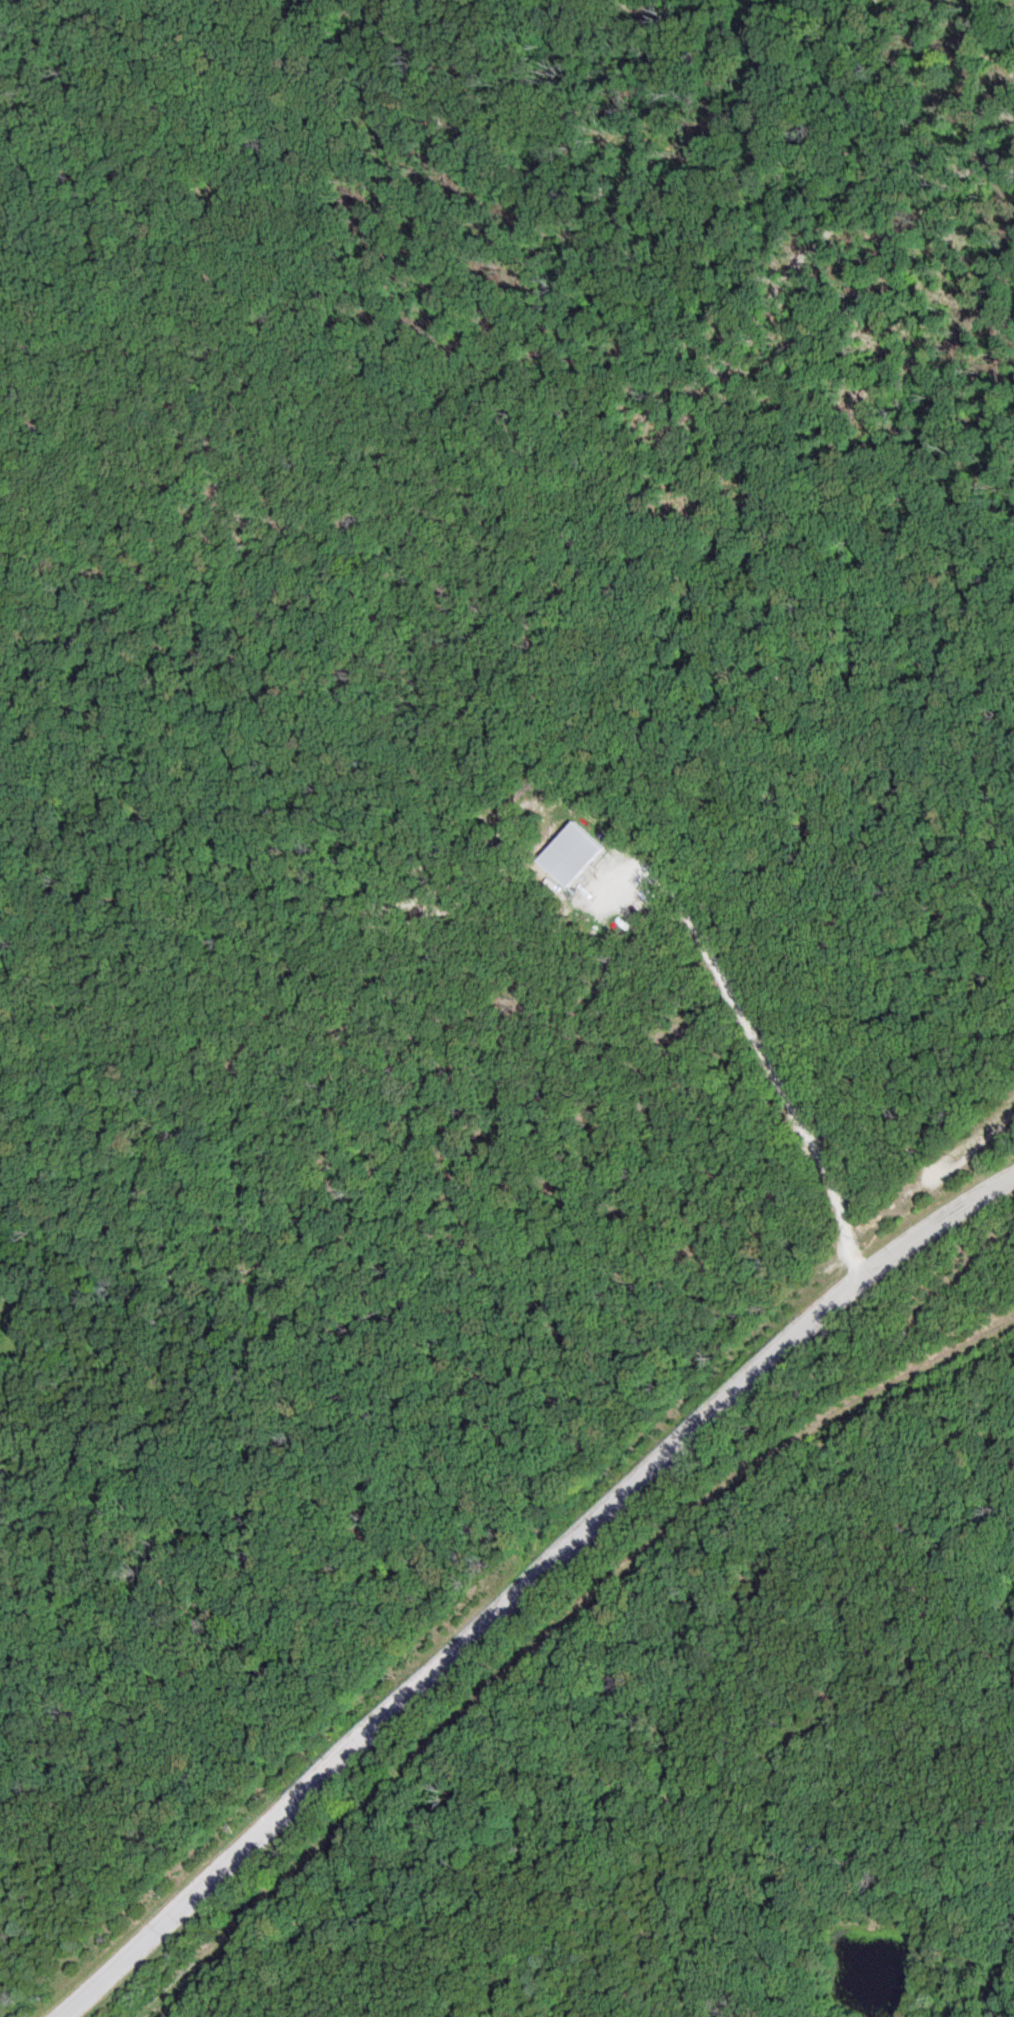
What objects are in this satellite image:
building: (574, 855)
road: (526, 1584)
railway: (553, 1633)

